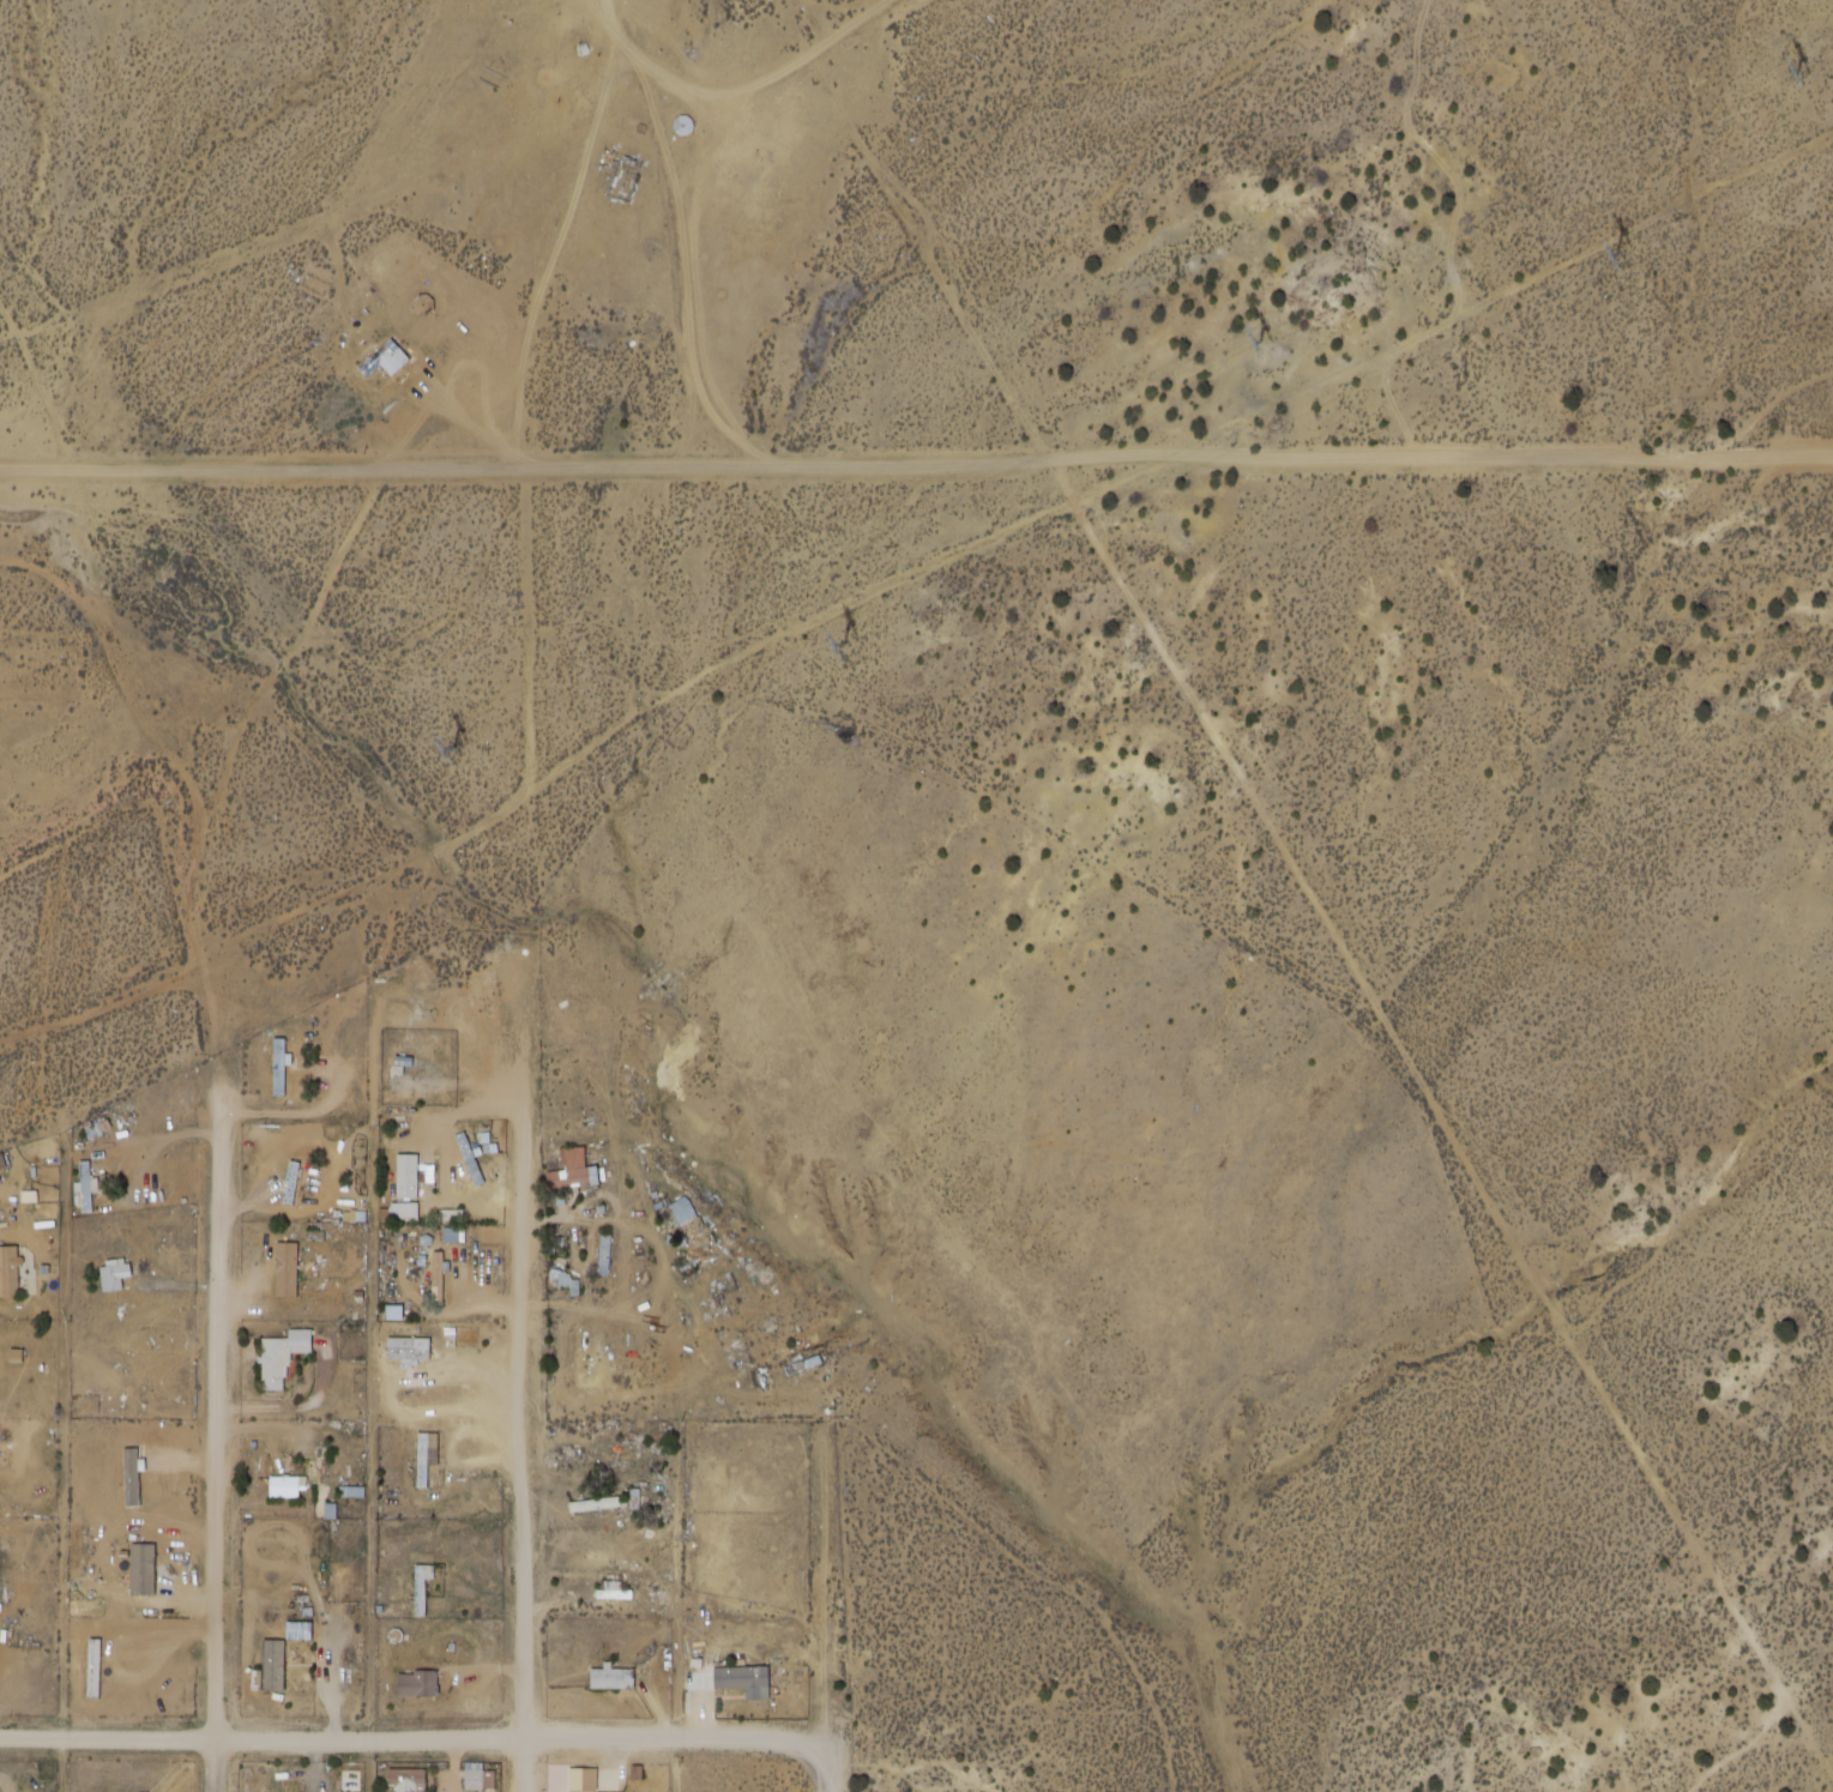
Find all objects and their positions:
power tower: (1803, 74)
power tower: (1623, 259)
power tower: (1262, 343)
building: (386, 361)
road: (916, 467)
road: (917, 596)
power tower: (844, 645)
road: (104, 657)
power tower: (452, 755)
building: (470, 1157)
building: (1, 1159)
building: (571, 1167)
building: (406, 1175)
building: (92, 1177)
building: (453, 1232)
building: (700, 1237)
building: (285, 1268)
building: (10, 1271)
building: (109, 1274)
building: (560, 1278)
building: (409, 1347)
building: (282, 1354)
road: (525, 1378)
road: (215, 1422)
building: (427, 1456)
building: (284, 1486)
building: (299, 1628)
building: (272, 1664)
building: (741, 1676)
building: (613, 1677)
building: (417, 1683)
road: (410, 1738)
road: (73, 1766)
road: (825, 1774)
building: (410, 1779)
building: (480, 1779)
building: (583, 1779)

